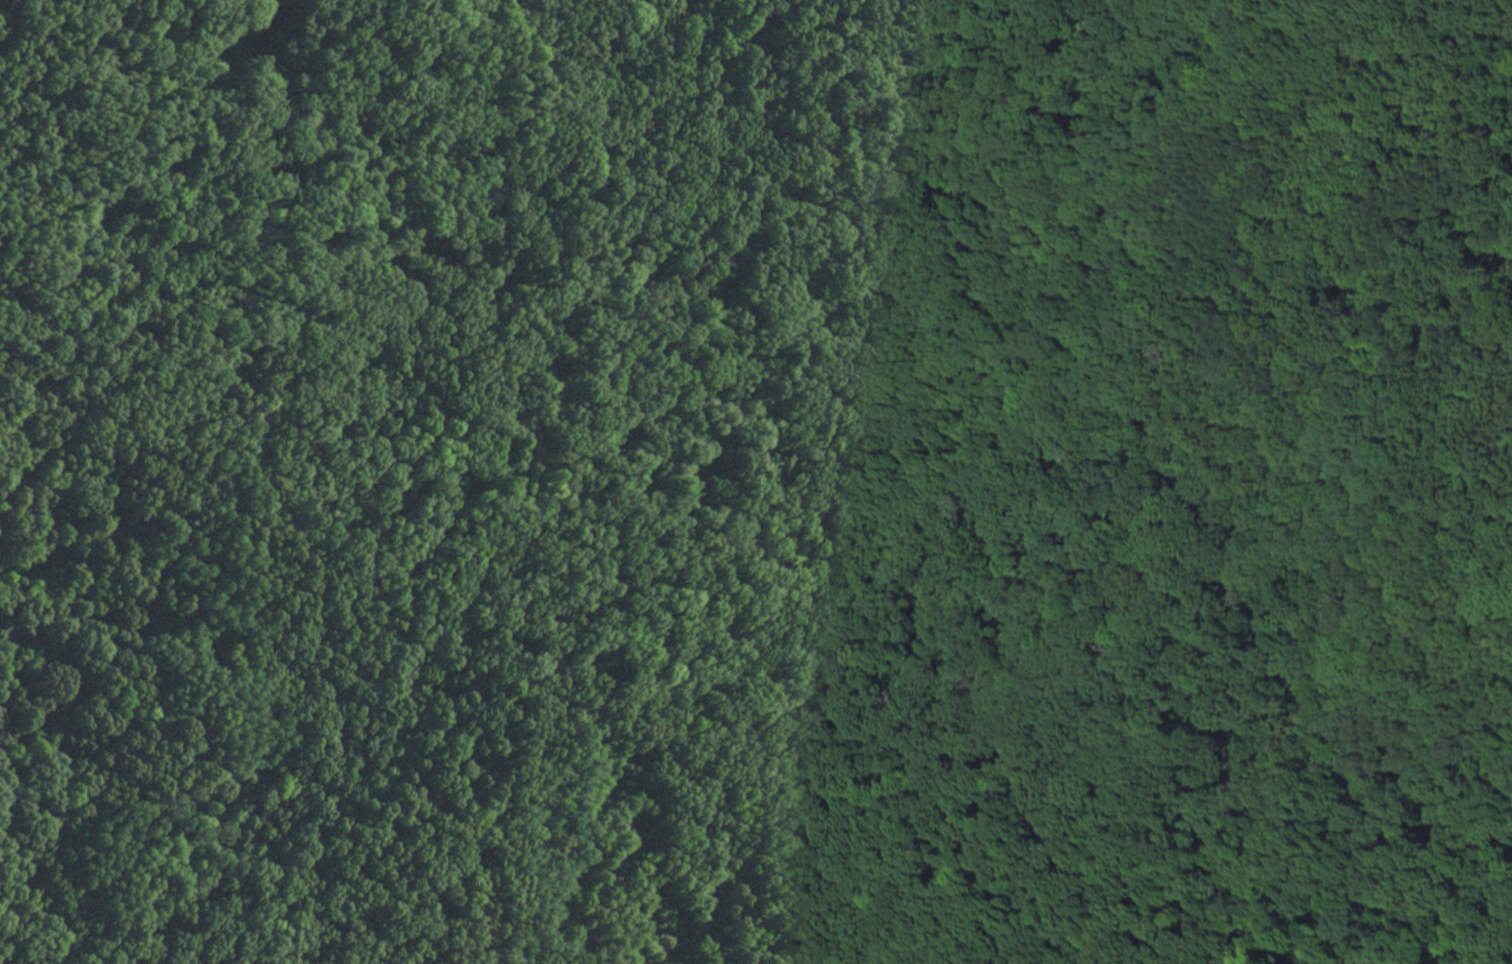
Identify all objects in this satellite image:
park: (756, 482)
road: (1332, 809)
road: (1418, 811)
road: (941, 866)

